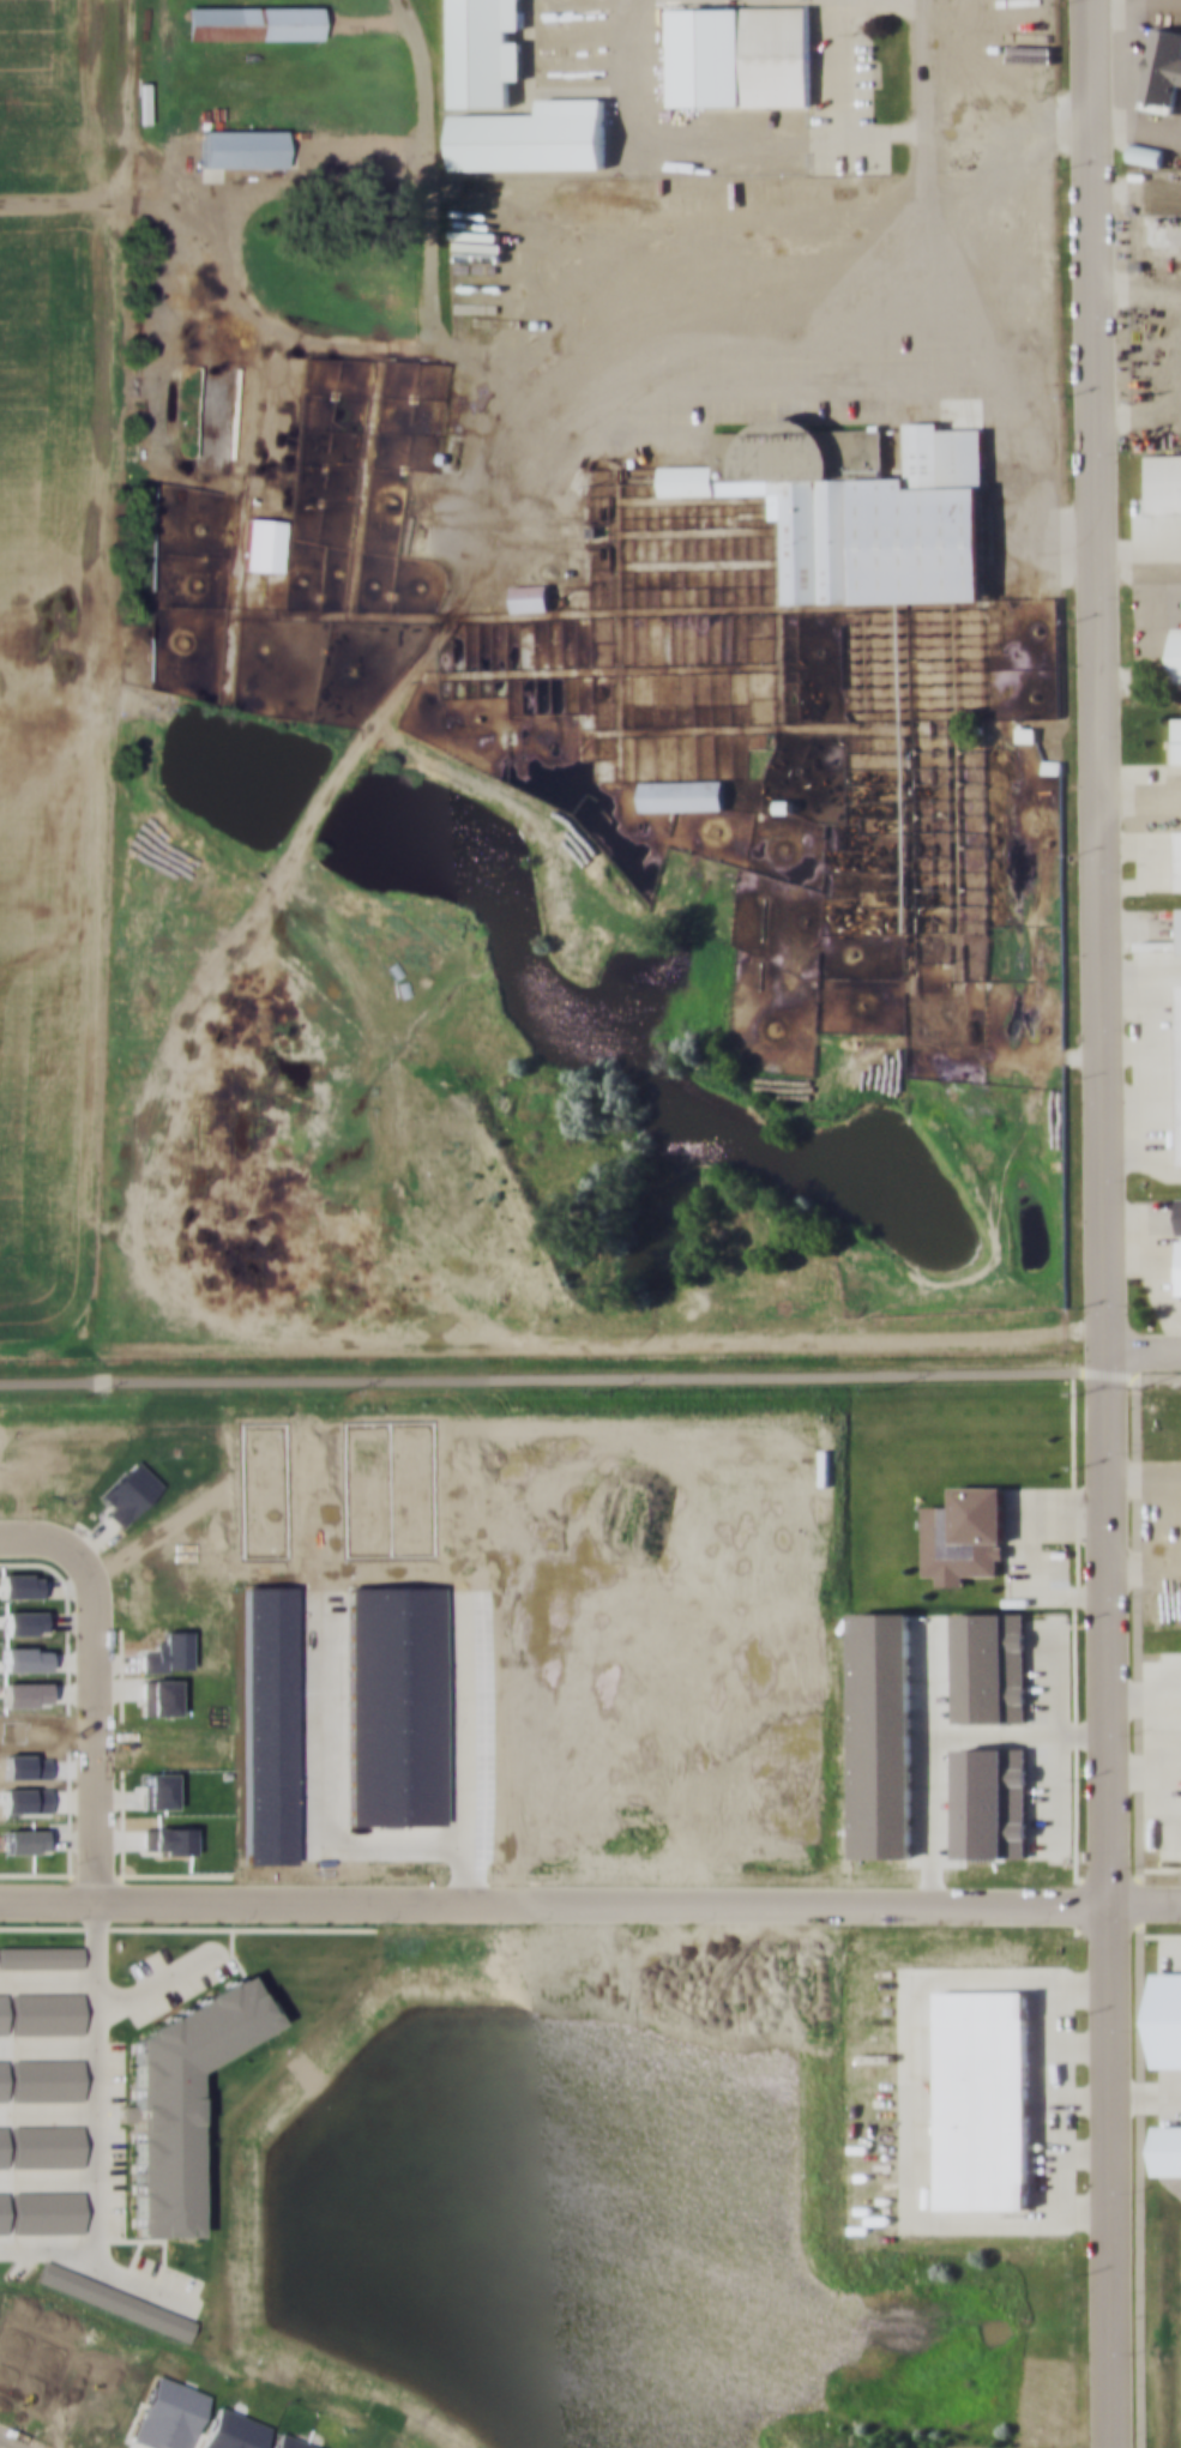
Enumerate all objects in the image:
building: (249, 22)
building: (484, 52)
building: (740, 55)
building: (1162, 68)
building: (532, 135)
building: (241, 147)
building: (1146, 151)
building: (1161, 228)
road: (948, 267)
building: (1164, 482)
building: (857, 506)
building: (424, 508)
building: (263, 543)
building: (530, 597)
building: (1176, 658)
building: (1177, 738)
building: (682, 794)
road: (1140, 803)
building: (1180, 858)
building: (1180, 929)
road: (198, 1000)
building: (1180, 1041)
road: (471, 1093)
road: (1103, 1223)
road: (1143, 1346)
road: (590, 1377)
building: (965, 1533)
road: (94, 1684)
road: (553, 1900)
road: (1144, 1903)
building: (982, 2098)
road: (5, 2446)

